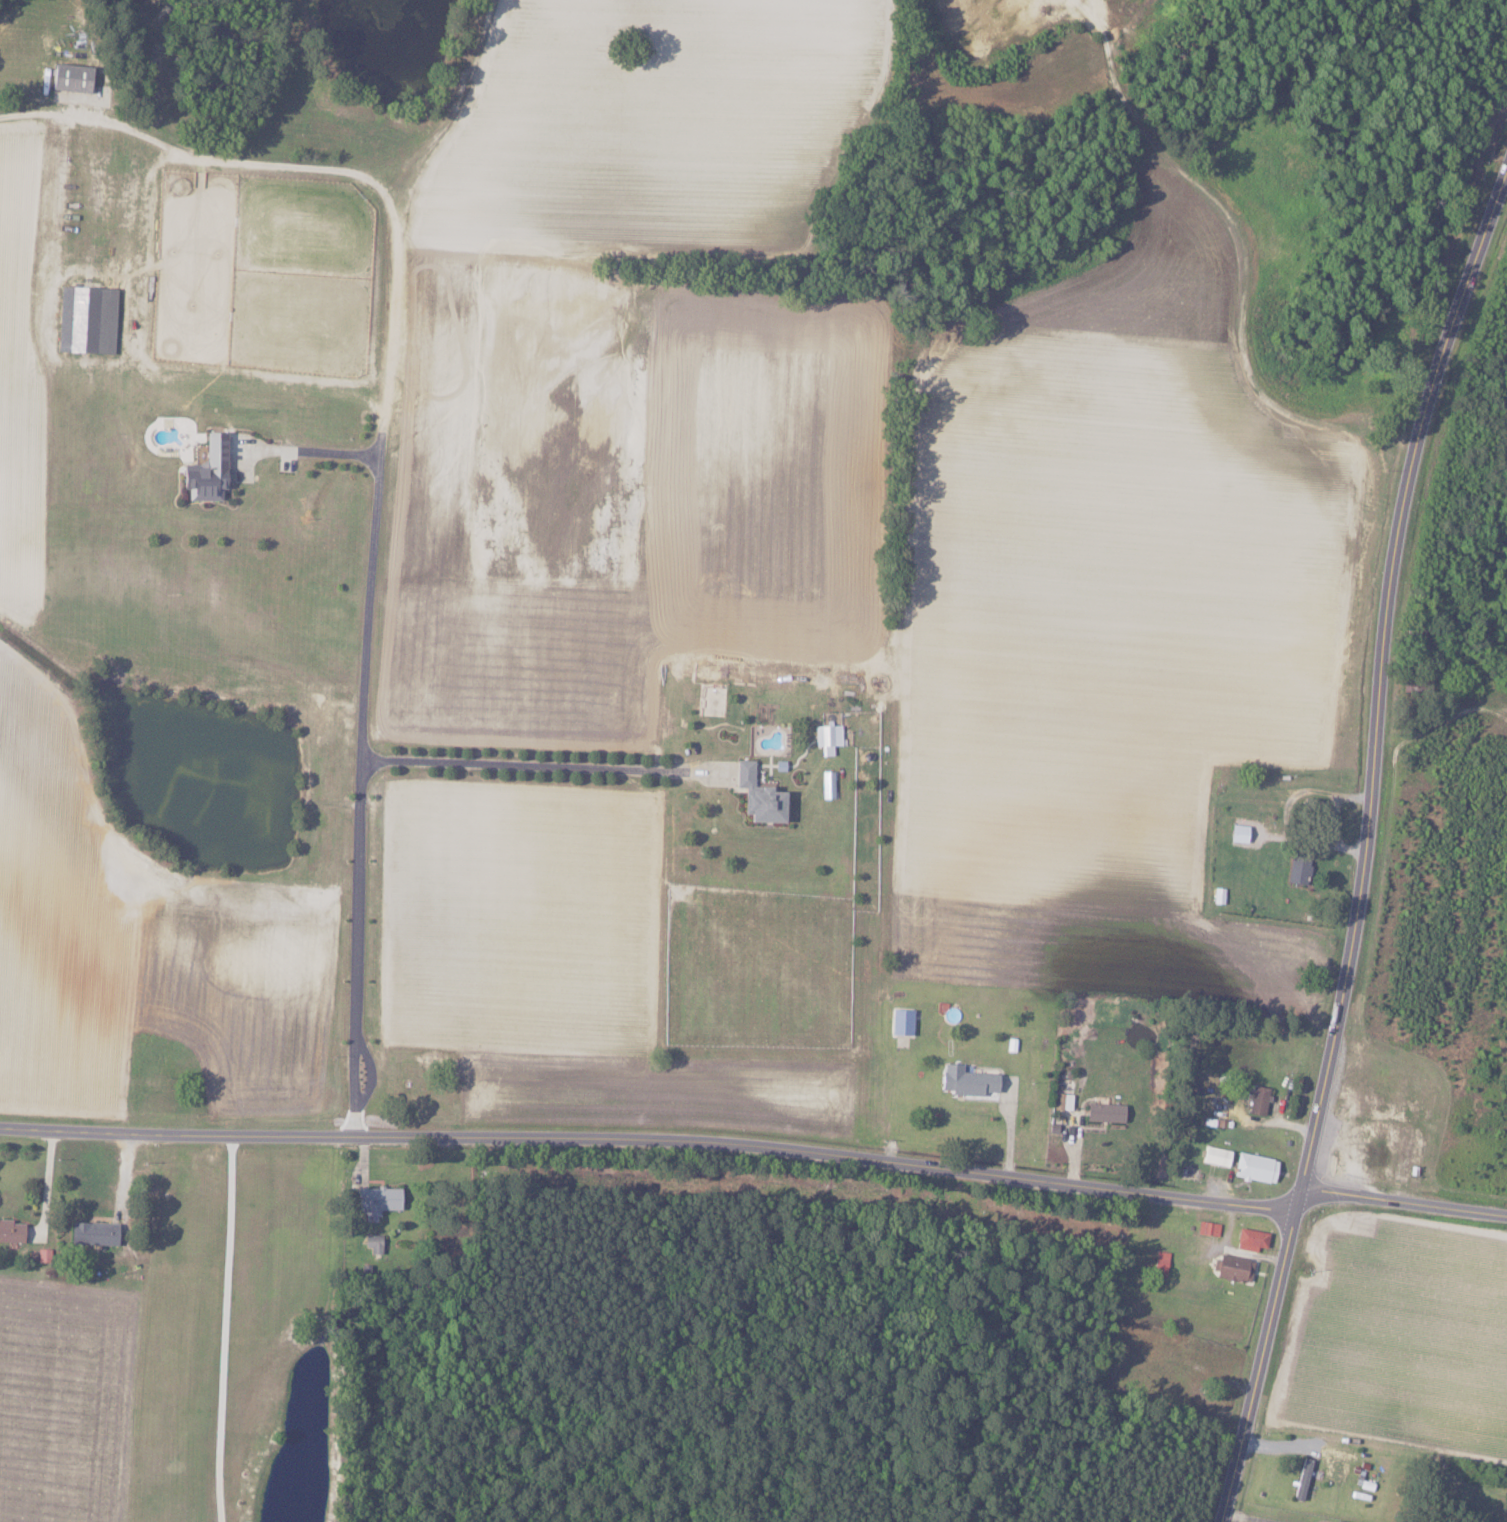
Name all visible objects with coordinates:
building: (67, 77)
building: (84, 319)
building: (204, 471)
road: (365, 733)
building: (826, 737)
road: (527, 761)
building: (826, 784)
building: (1236, 833)
road: (1366, 850)
building: (1297, 868)
building: (1217, 895)
building: (899, 1029)
building: (965, 1081)
building: (1257, 1101)
building: (1102, 1112)
road: (1010, 1125)
road: (650, 1137)
building: (1214, 1156)
building: (1253, 1168)
building: (376, 1200)
road: (1403, 1200)
building: (1207, 1228)
building: (91, 1232)
building: (1249, 1240)
building: (1159, 1264)
building: (1232, 1269)
road: (219, 1327)
building: (1301, 1478)
building: (1341, 1521)

